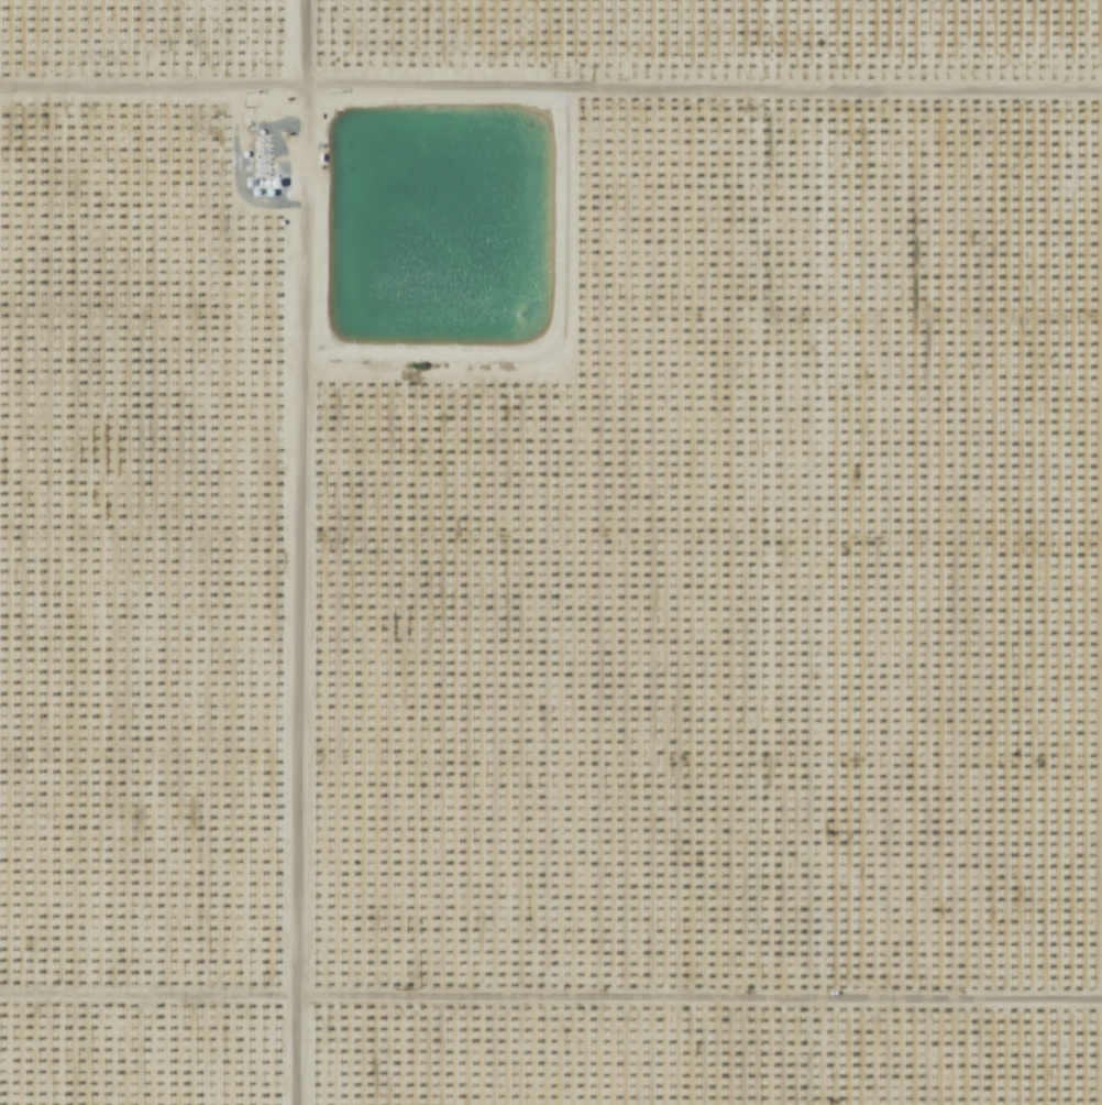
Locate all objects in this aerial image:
road: (550, 95)
road: (290, 551)
road: (551, 1004)

